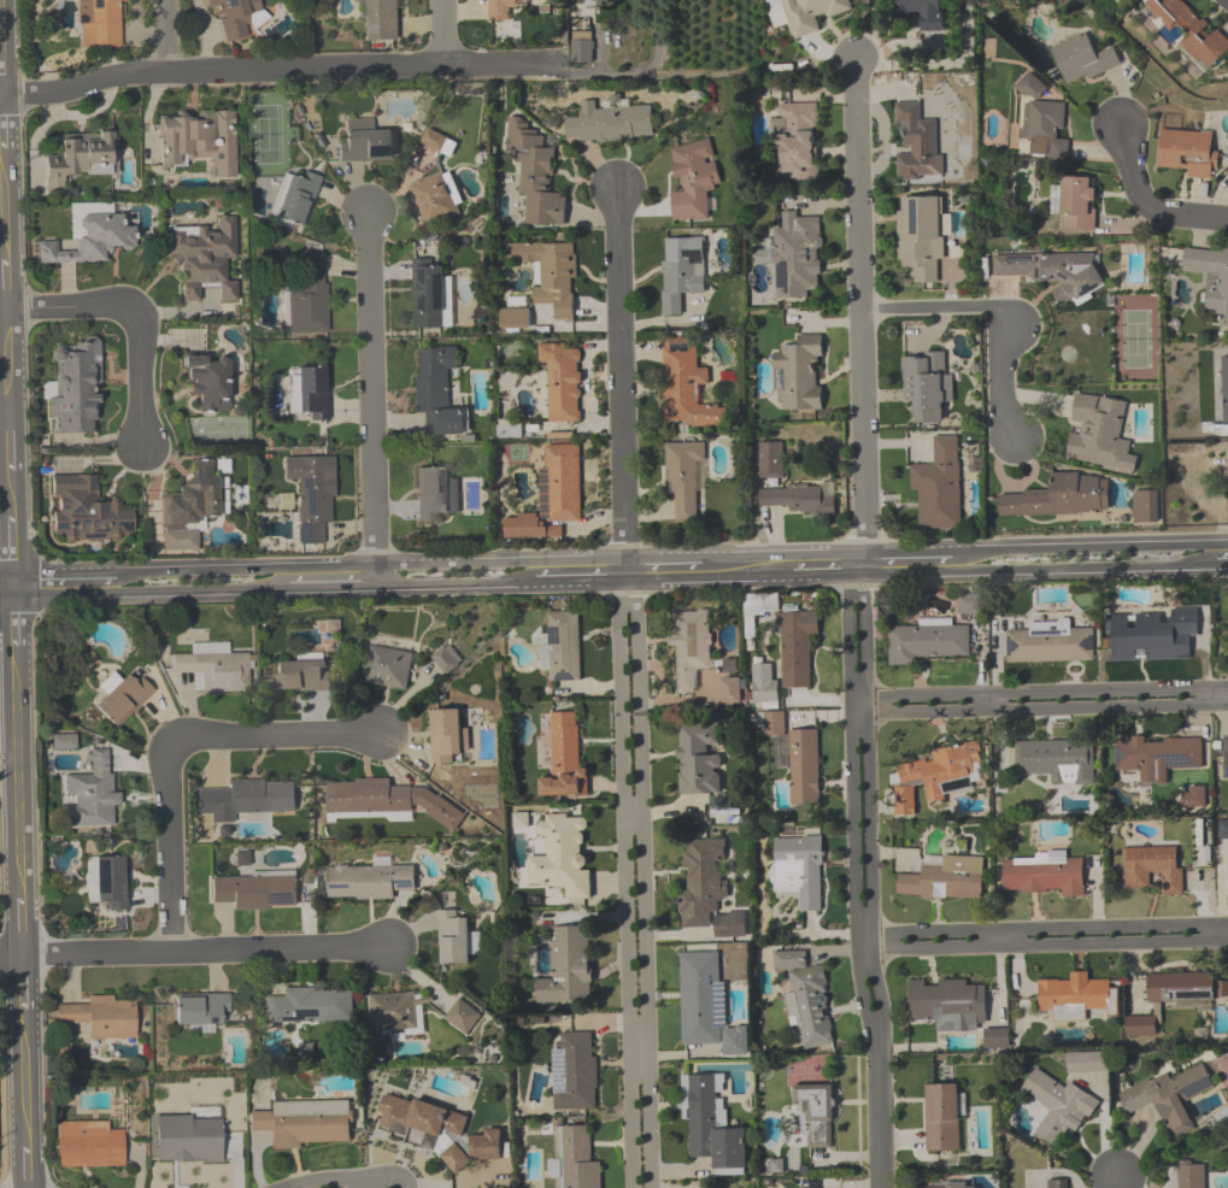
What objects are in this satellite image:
building: (595, 4)
building: (500, 7)
building: (812, 13)
building: (924, 13)
building: (233, 16)
building: (380, 19)
building: (101, 24)
road: (874, 34)
building: (1192, 34)
road: (439, 35)
road: (653, 35)
road: (165, 37)
building: (581, 47)
building: (1083, 60)
road: (324, 72)
road: (0, 75)
road: (0, 94)
building: (609, 124)
building: (1046, 128)
road: (2, 135)
building: (198, 140)
building: (434, 141)
building: (365, 142)
building: (798, 142)
building: (917, 143)
building: (1187, 152)
building: (80, 157)
building: (535, 176)
building: (692, 184)
building: (296, 199)
building: (434, 199)
road: (1156, 200)
building: (1075, 204)
building: (90, 233)
building: (918, 239)
building: (795, 254)
building: (205, 255)
building: (1051, 270)
building: (681, 271)
building: (550, 275)
building: (1211, 278)
building: (427, 293)
building: (307, 298)
road: (859, 306)
road: (995, 311)
building: (516, 314)
road: (136, 317)
building: (799, 374)
road: (619, 375)
building: (207, 381)
building: (560, 383)
road: (8, 384)
building: (74, 386)
building: (926, 386)
building: (684, 389)
building: (439, 390)
building: (311, 392)
road: (371, 400)
building: (1216, 401)
road: (5, 411)
building: (1099, 435)
building: (771, 458)
building: (682, 475)
building: (563, 482)
building: (938, 486)
building: (431, 493)
building: (310, 496)
building: (1057, 496)
building: (193, 498)
building: (800, 499)
building: (84, 507)
building: (1145, 508)
road: (1095, 546)
road: (913, 552)
road: (785, 555)
road: (665, 559)
road: (858, 563)
road: (1222, 564)
road: (370, 566)
road: (1083, 569)
road: (625, 570)
road: (903, 574)
road: (64, 575)
road: (6, 576)
road: (812, 576)
road: (735, 577)
road: (663, 578)
road: (580, 581)
road: (456, 583)
road: (334, 587)
road: (152, 590)
road: (6, 594)
building: (970, 604)
road: (13, 633)
building: (1153, 635)
building: (927, 643)
building: (1050, 646)
building: (563, 647)
building: (692, 647)
building: (797, 647)
building: (387, 667)
building: (213, 670)
building: (302, 675)
building: (764, 687)
building: (729, 690)
road: (1038, 692)
road: (1212, 695)
building: (124, 699)
road: (991, 701)
road: (1038, 708)
road: (276, 736)
building: (447, 736)
building: (65, 742)
building: (795, 757)
building: (1157, 757)
building: (699, 759)
building: (564, 760)
building: (1056, 761)
building: (934, 776)
building: (92, 795)
building: (1192, 798)
building: (248, 799)
building: (386, 804)
road: (633, 811)
road: (869, 812)
road: (17, 813)
road: (850, 813)
building: (1222, 829)
road: (168, 849)
building: (562, 855)
building: (799, 869)
building: (1153, 869)
building: (1044, 875)
building: (945, 878)
building: (369, 881)
building: (106, 882)
road: (641, 882)
road: (625, 883)
building: (255, 890)
building: (707, 890)
road: (1039, 929)
building: (456, 939)
road: (1041, 946)
road: (206, 952)
road: (10, 955)
building: (568, 968)
building: (1185, 988)
road: (20, 996)
building: (1075, 998)
building: (806, 999)
building: (706, 1004)
building: (310, 1007)
building: (954, 1007)
building: (202, 1011)
building: (398, 1013)
building: (462, 1017)
building: (102, 1019)
building: (1140, 1025)
road: (637, 1042)
building: (1087, 1063)
building: (574, 1072)
road: (22, 1082)
building: (1169, 1099)
building: (1058, 1107)
building: (1220, 1115)
building: (944, 1116)
building: (811, 1117)
road: (875, 1119)
building: (306, 1123)
building: (711, 1125)
building: (437, 1130)
building: (189, 1139)
building: (89, 1145)
road: (23, 1157)
building: (574, 1159)
building: (1189, 1174)
road: (322, 1181)
road: (1115, 1181)
building: (1059, 1183)
building: (950, 1184)

